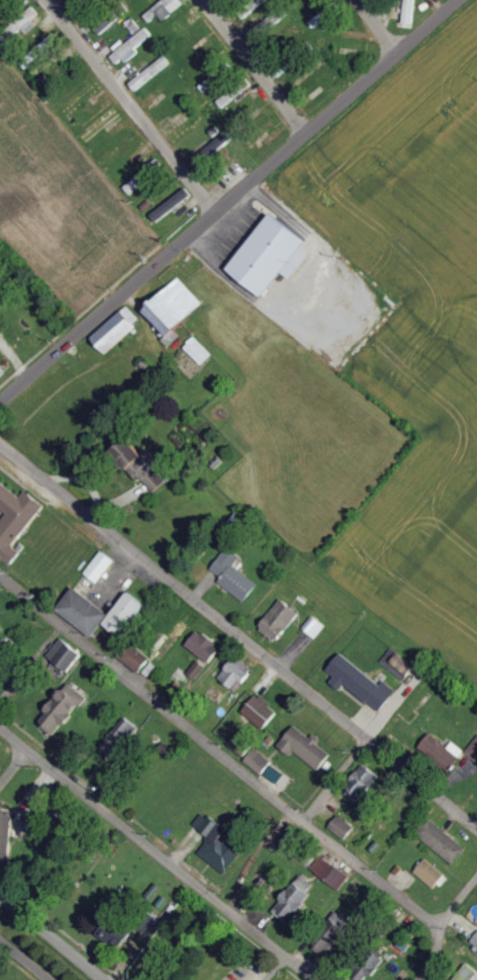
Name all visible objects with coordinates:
road: (210, 2)
building: (165, 9)
building: (409, 12)
building: (22, 25)
road: (376, 26)
building: (263, 28)
building: (45, 47)
building: (130, 49)
road: (256, 66)
building: (150, 74)
road: (131, 106)
road: (338, 106)
building: (213, 150)
building: (144, 176)
building: (172, 205)
building: (264, 251)
road: (108, 306)
building: (175, 310)
building: (118, 330)
building: (199, 351)
building: (3, 370)
building: (145, 465)
building: (14, 518)
building: (100, 566)
building: (234, 575)
building: (84, 610)
building: (125, 614)
building: (279, 620)
building: (314, 627)
road: (238, 637)
building: (205, 646)
building: (65, 654)
building: (134, 657)
road: (31, 661)
building: (399, 664)
building: (198, 668)
building: (3, 669)
building: (237, 673)
building: (361, 682)
building: (246, 700)
building: (63, 708)
building: (262, 710)
building: (130, 733)
building: (242, 743)
building: (306, 746)
building: (473, 750)
building: (443, 751)
road: (217, 753)
building: (259, 761)
road: (14, 762)
building: (276, 774)
building: (362, 783)
road: (336, 784)
building: (342, 828)
building: (5, 834)
building: (442, 841)
building: (219, 844)
road: (158, 850)
building: (330, 872)
building: (430, 873)
building: (295, 898)
road: (441, 928)
building: (117, 933)
road: (53, 936)
building: (474, 942)
road: (25, 960)
building: (370, 966)
building: (467, 973)

